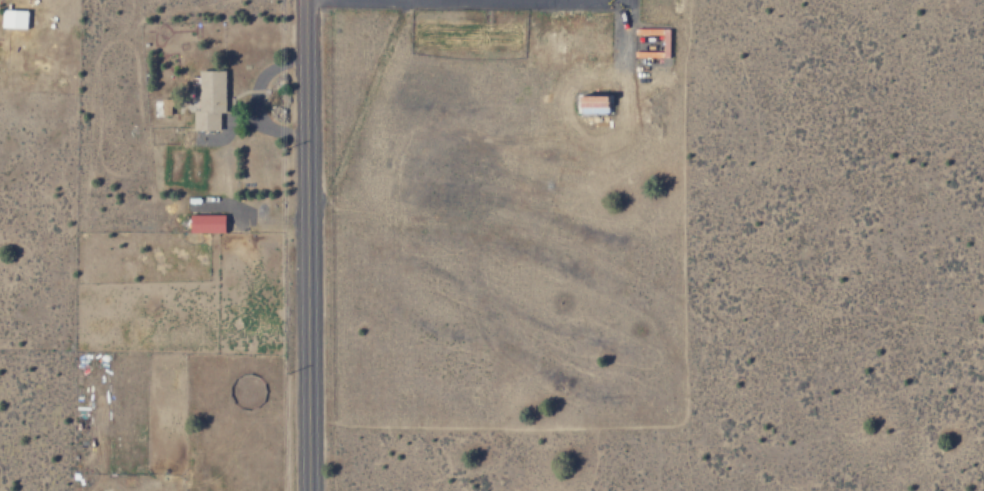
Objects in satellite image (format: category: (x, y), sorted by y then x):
building: (17, 18)
building: (213, 99)
building: (590, 103)
building: (169, 105)
building: (211, 223)
road: (303, 245)

